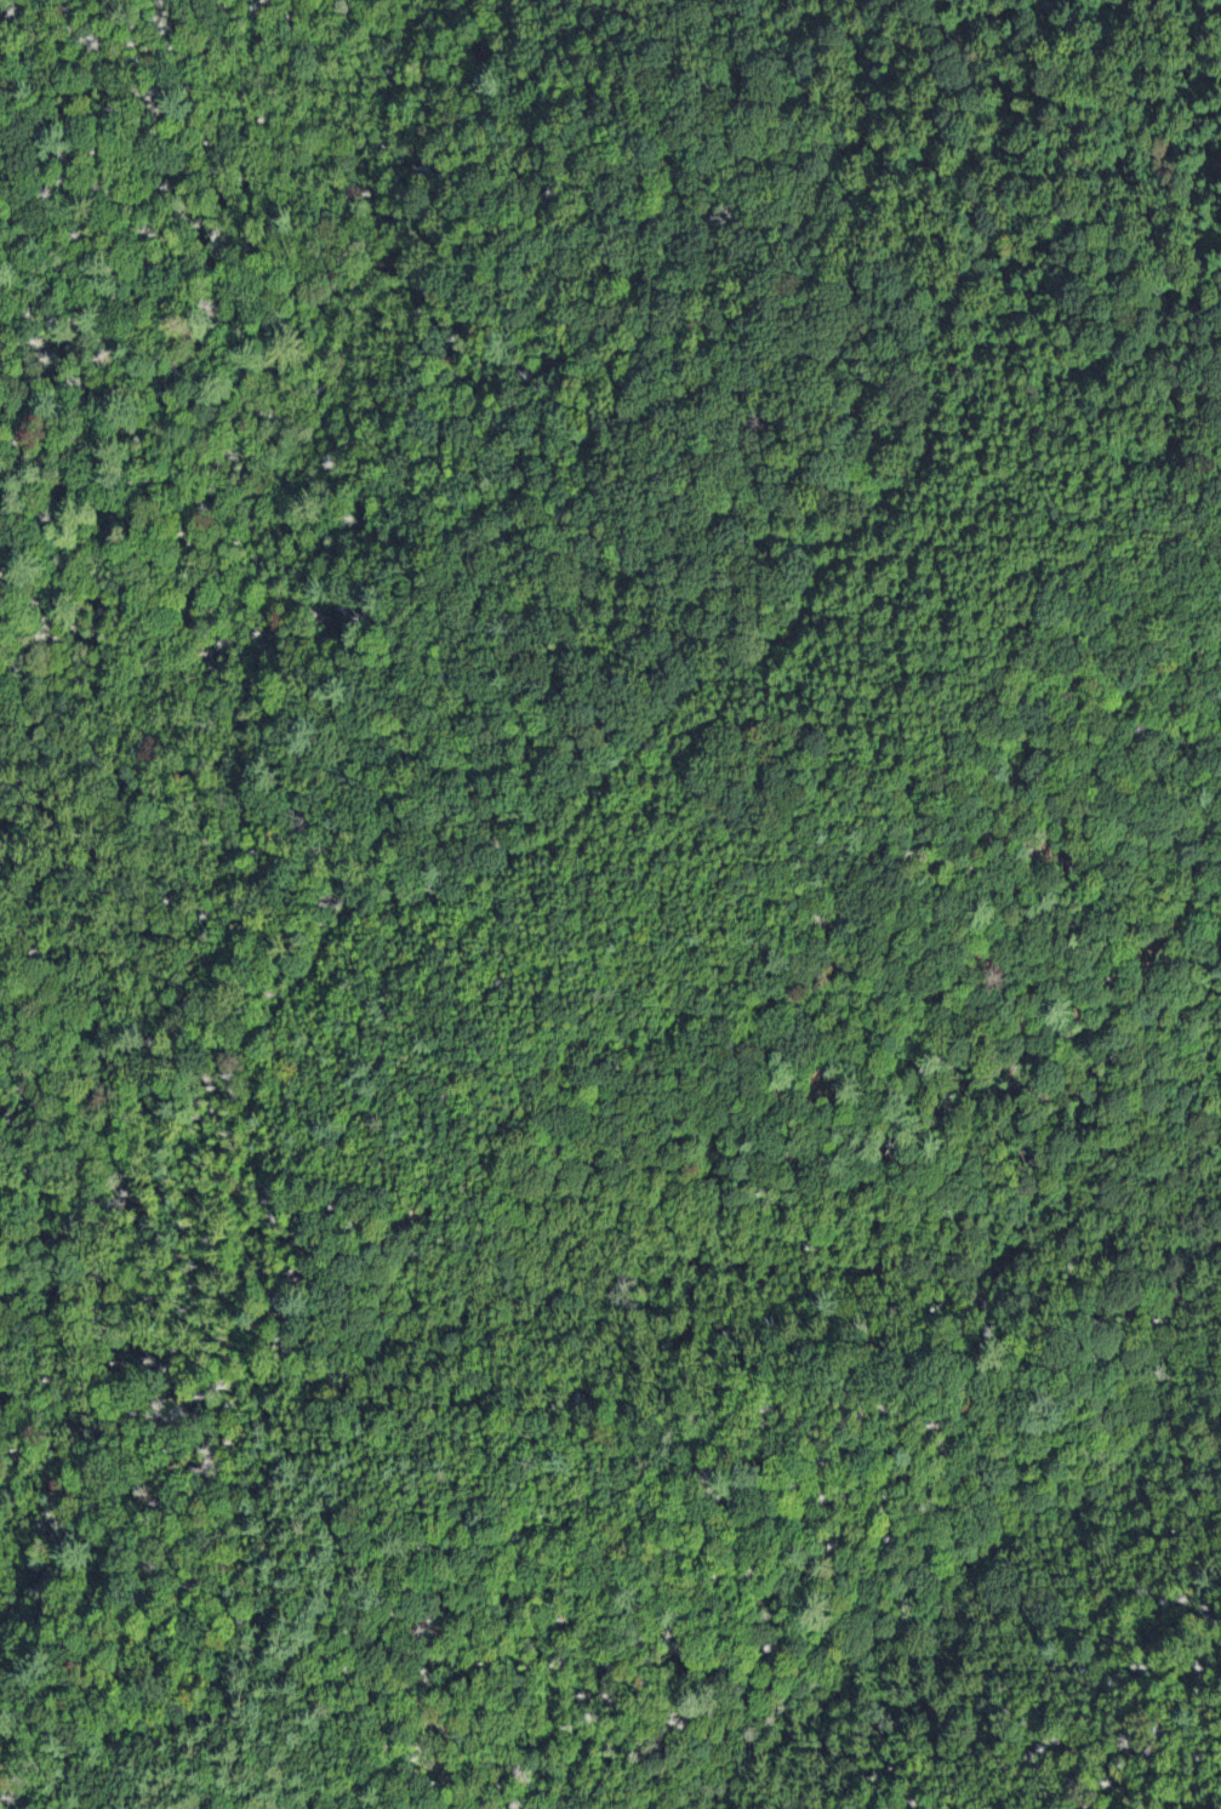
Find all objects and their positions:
road: (1010, 1671)

